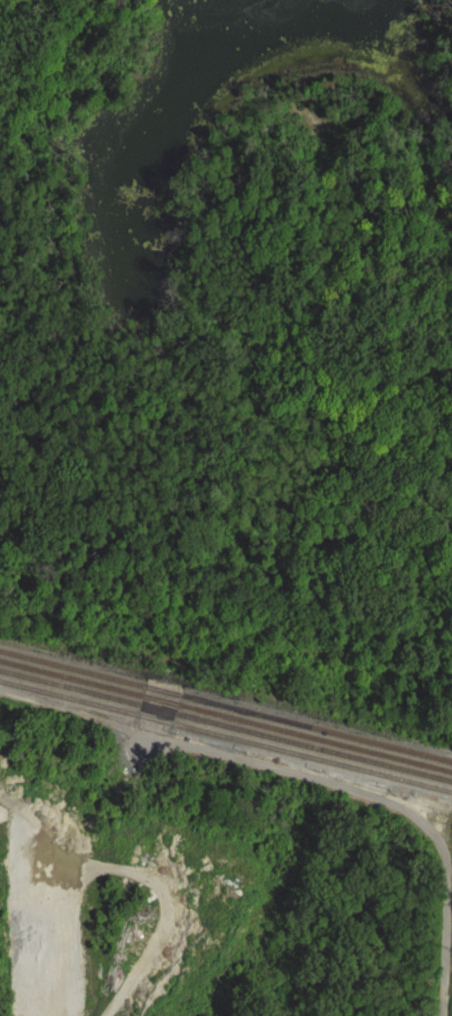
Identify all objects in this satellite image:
railway: (226, 705)
railway: (225, 716)
railway: (225, 727)
railway: (225, 737)

